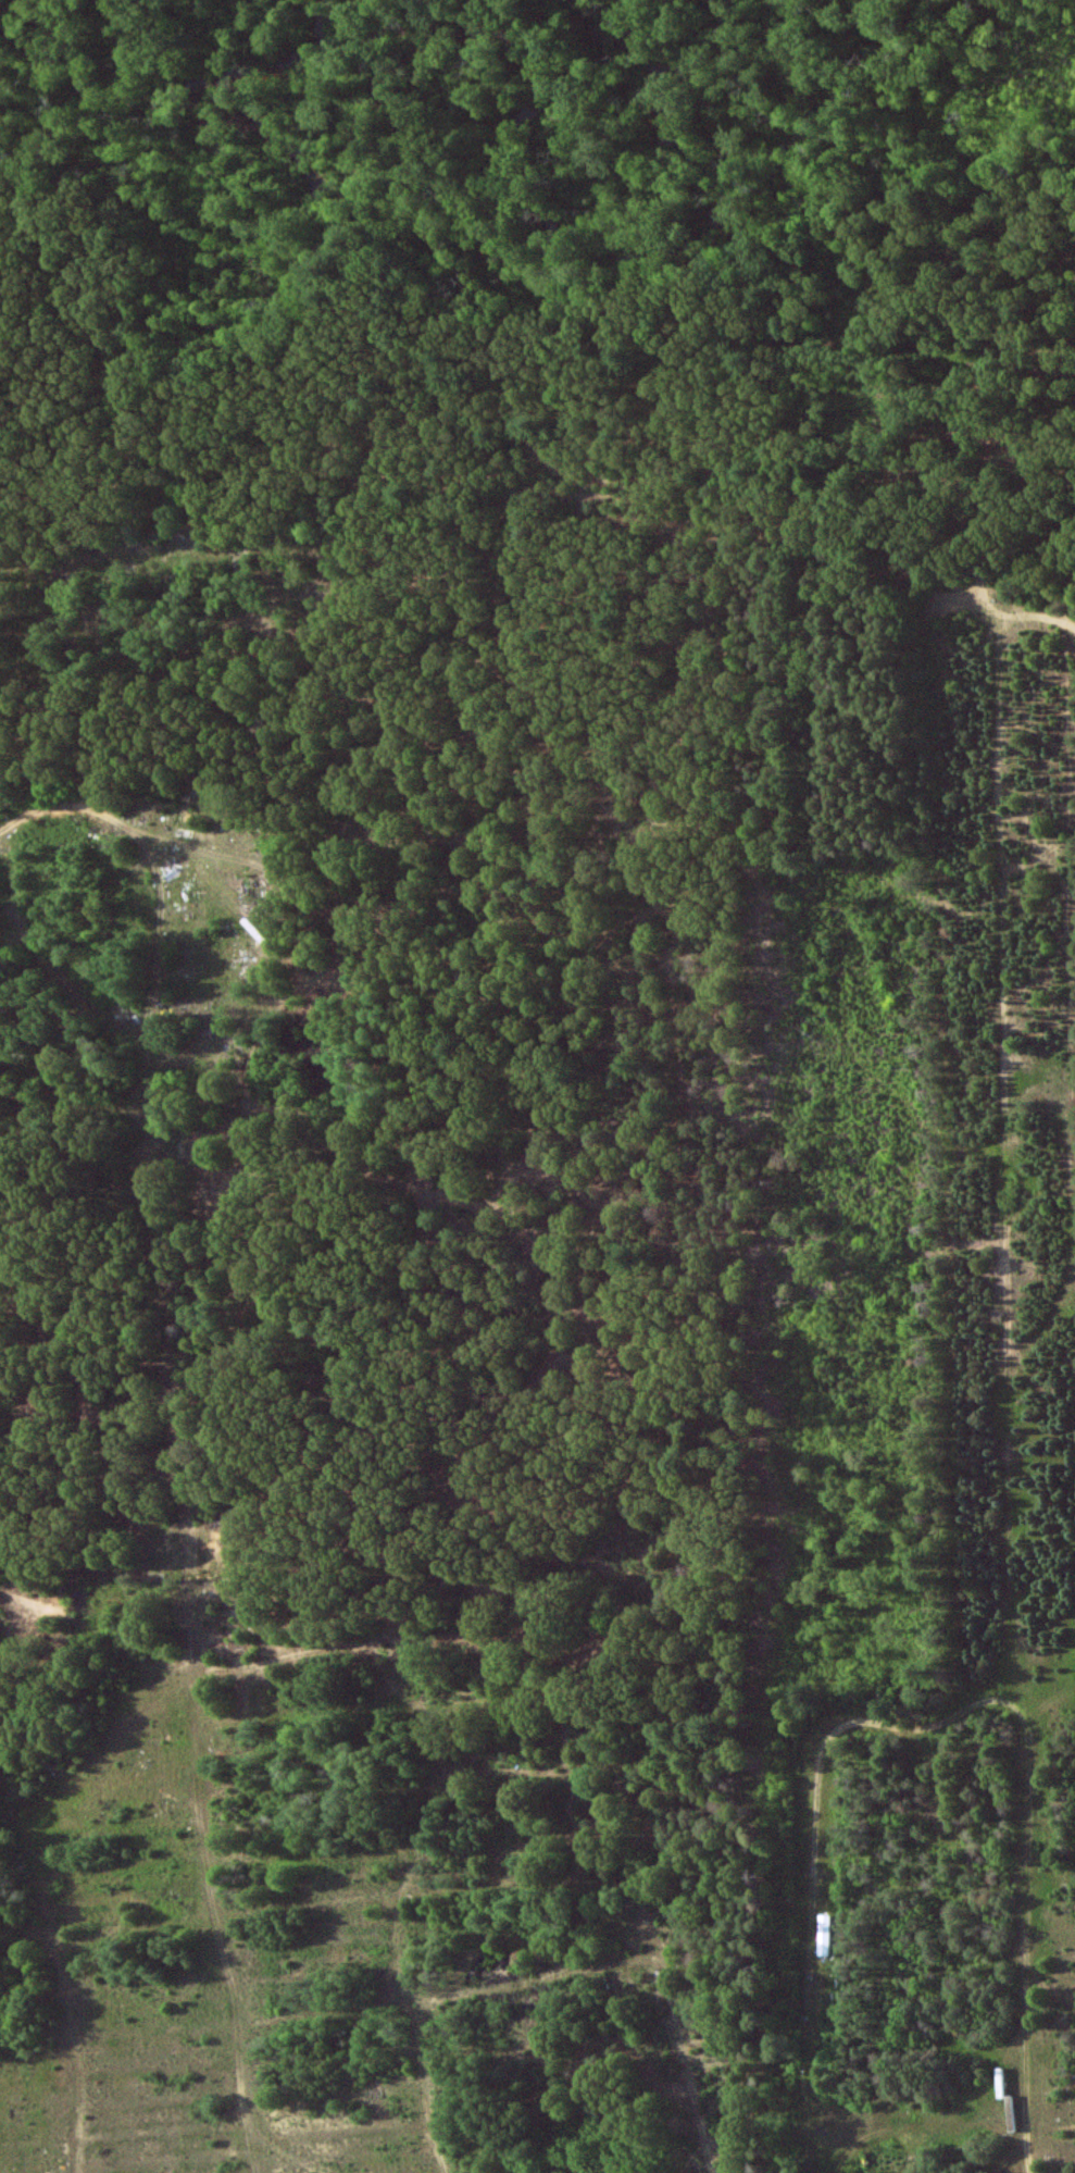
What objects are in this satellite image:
road: (87, 810)
road: (0, 845)
road: (187, 1603)
road: (1027, 2151)

